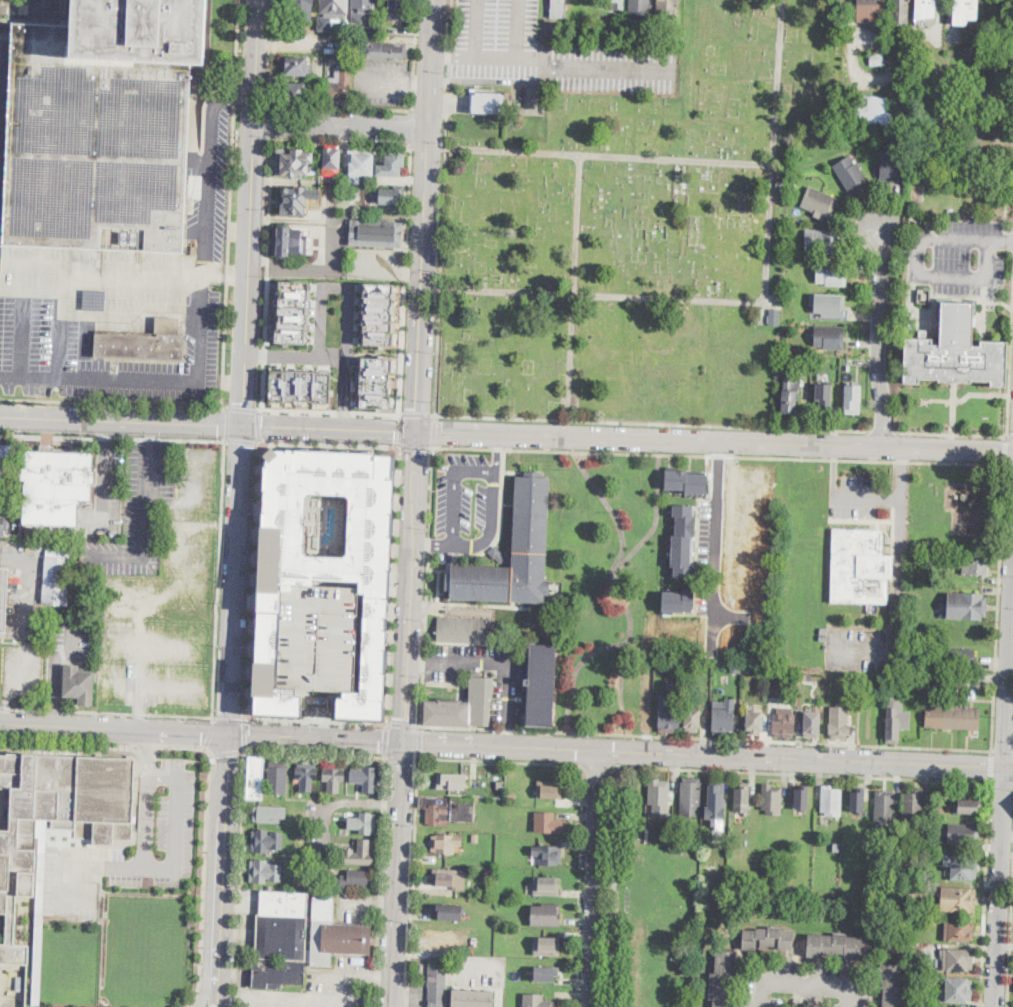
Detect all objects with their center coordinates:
building: (616, 4)
building: (558, 8)
building: (639, 8)
building: (668, 8)
building: (925, 8)
building: (397, 9)
building: (300, 10)
building: (870, 10)
building: (965, 10)
building: (362, 11)
building: (900, 11)
building: (331, 12)
building: (558, 21)
road: (478, 27)
road: (517, 28)
building: (375, 29)
building: (556, 31)
building: (611, 33)
building: (344, 43)
building: (385, 50)
parking lot: (548, 51)
road: (274, 52)
road: (415, 55)
road: (444, 55)
building: (877, 58)
road: (563, 64)
building: (295, 66)
parking lot: (382, 81)
road: (384, 81)
road: (777, 81)
road: (418, 82)
building: (340, 85)
building: (297, 90)
road: (233, 94)
building: (488, 103)
parking lot: (2, 107)
road: (342, 107)
building: (872, 109)
building: (520, 118)
building: (510, 119)
road: (272, 122)
building: (103, 126)
road: (341, 126)
road: (411, 128)
road: (340, 143)
building: (799, 147)
building: (291, 161)
building: (331, 161)
building: (391, 163)
building: (361, 165)
building: (890, 166)
building: (849, 173)
building: (782, 174)
building: (781, 183)
building: (795, 183)
parking lot: (210, 184)
building: (390, 194)
building: (297, 200)
road: (230, 202)
building: (820, 202)
road: (443, 207)
building: (951, 211)
road: (252, 212)
road: (424, 215)
road: (769, 229)
building: (375, 231)
park: (636, 235)
building: (791, 235)
building: (819, 240)
building: (292, 241)
road: (1006, 241)
parking lot: (375, 264)
road: (266, 274)
road: (374, 274)
building: (832, 274)
road: (918, 275)
road: (408, 276)
road: (134, 277)
road: (405, 280)
road: (574, 286)
road: (63, 287)
road: (31, 289)
building: (924, 295)
building: (95, 298)
road: (348, 305)
building: (830, 305)
building: (293, 312)
road: (203, 313)
building: (377, 313)
building: (774, 317)
parking lot: (110, 321)
road: (23, 331)
parking lot: (337, 335)
road: (879, 336)
building: (828, 337)
building: (145, 343)
building: (956, 352)
road: (296, 356)
building: (802, 363)
road: (1010, 364)
road: (29, 374)
building: (374, 381)
building: (300, 385)
road: (980, 393)
building: (790, 395)
building: (823, 396)
road: (939, 399)
building: (851, 400)
road: (112, 401)
road: (241, 407)
road: (953, 408)
road: (329, 411)
road: (418, 414)
road: (121, 420)
road: (224, 423)
road: (652, 423)
road: (258, 425)
road: (329, 427)
road: (400, 429)
road: (434, 429)
road: (107, 432)
road: (884, 432)
road: (152, 433)
road: (952, 435)
road: (112, 437)
road: (1010, 437)
road: (714, 440)
road: (241, 441)
road: (329, 444)
road: (498, 444)
road: (416, 446)
road: (1006, 450)
road: (718, 455)
building: (4, 460)
road: (1009, 465)
building: (59, 475)
road: (455, 477)
building: (686, 482)
road: (105, 485)
parking lot: (467, 500)
road: (609, 505)
parking lot: (164, 513)
building: (4, 522)
road: (147, 526)
road: (718, 528)
building: (683, 540)
road: (483, 541)
building: (513, 553)
building: (975, 564)
building: (325, 565)
building: (859, 565)
road: (218, 578)
road: (236, 580)
building: (57, 581)
road: (252, 581)
road: (24, 582)
road: (393, 584)
parking lot: (24, 585)
road: (426, 585)
road: (409, 586)
park: (609, 593)
building: (2, 595)
building: (678, 600)
road: (625, 601)
road: (178, 602)
road: (245, 605)
road: (269, 606)
building: (967, 606)
road: (997, 607)
building: (465, 630)
building: (319, 638)
parking lot: (319, 638)
parking lot: (156, 642)
road: (157, 642)
parking lot: (67, 648)
building: (955, 657)
road: (499, 661)
building: (673, 665)
building: (692, 665)
road: (139, 666)
building: (736, 667)
parking lot: (21, 668)
building: (746, 668)
road: (54, 673)
building: (804, 675)
building: (781, 677)
building: (789, 677)
road: (1008, 677)
road: (156, 682)
building: (78, 684)
building: (541, 685)
road: (622, 686)
building: (784, 700)
building: (461, 705)
road: (107, 711)
building: (670, 714)
building: (723, 717)
building: (756, 717)
road: (229, 718)
building: (692, 718)
building: (953, 718)
building: (836, 720)
road: (315, 721)
building: (896, 722)
road: (403, 723)
building: (784, 723)
building: (813, 723)
road: (115, 731)
road: (208, 732)
road: (244, 734)
road: (704, 738)
road: (149, 739)
road: (317, 739)
road: (386, 740)
road: (420, 742)
road: (69, 743)
road: (152, 746)
road: (501, 746)
road: (189, 747)
road: (621, 749)
road: (1001, 750)
road: (582, 751)
road: (228, 752)
road: (315, 754)
road: (401, 758)
road: (801, 759)
road: (500, 761)
road: (990, 766)
road: (1008, 767)
road: (599, 769)
building: (497, 770)
road: (803, 773)
building: (306, 775)
building: (333, 777)
building: (255, 778)
building: (277, 778)
building: (365, 778)
building: (451, 780)
road: (1001, 783)
building: (501, 784)
building: (550, 789)
building: (511, 793)
building: (659, 793)
building: (798, 795)
building: (691, 797)
building: (742, 799)
building: (772, 799)
building: (857, 800)
building: (831, 801)
road: (365, 803)
building: (716, 803)
building: (913, 804)
building: (969, 805)
building: (884, 806)
building: (447, 809)
building: (269, 814)
building: (56, 819)
road: (179, 822)
building: (549, 822)
building: (362, 823)
parking lot: (158, 831)
building: (41, 833)
road: (326, 833)
building: (963, 833)
road: (1007, 833)
building: (666, 836)
building: (475, 837)
building: (266, 841)
building: (445, 843)
building: (836, 846)
building: (359, 853)
building: (548, 854)
road: (113, 867)
building: (961, 867)
road: (224, 871)
building: (265, 871)
road: (398, 875)
building: (445, 876)
road: (239, 878)
building: (356, 879)
road: (594, 879)
road: (204, 881)
road: (380, 882)
road: (412, 883)
building: (546, 885)
road: (613, 885)
road: (1000, 886)
road: (579, 888)
building: (916, 890)
road: (985, 894)
building: (855, 895)
building: (959, 900)
building: (284, 904)
park: (666, 905)
building: (448, 911)
building: (546, 914)
building: (959, 931)
building: (335, 934)
building: (281, 938)
building: (768, 938)
building: (440, 940)
building: (547, 946)
building: (839, 946)
building: (886, 948)
building: (919, 952)
road: (1011, 952)
building: (957, 960)
road: (804, 962)
building: (923, 965)
parking lot: (479, 969)
building: (545, 973)
building: (276, 974)
building: (722, 978)
building: (922, 981)
building: (437, 985)
parking lot: (806, 985)
building: (892, 985)
road: (803, 986)
parking lot: (323, 988)
building: (958, 990)
road: (321, 999)
building: (472, 999)
building: (537, 1001)
building: (956, 1006)

